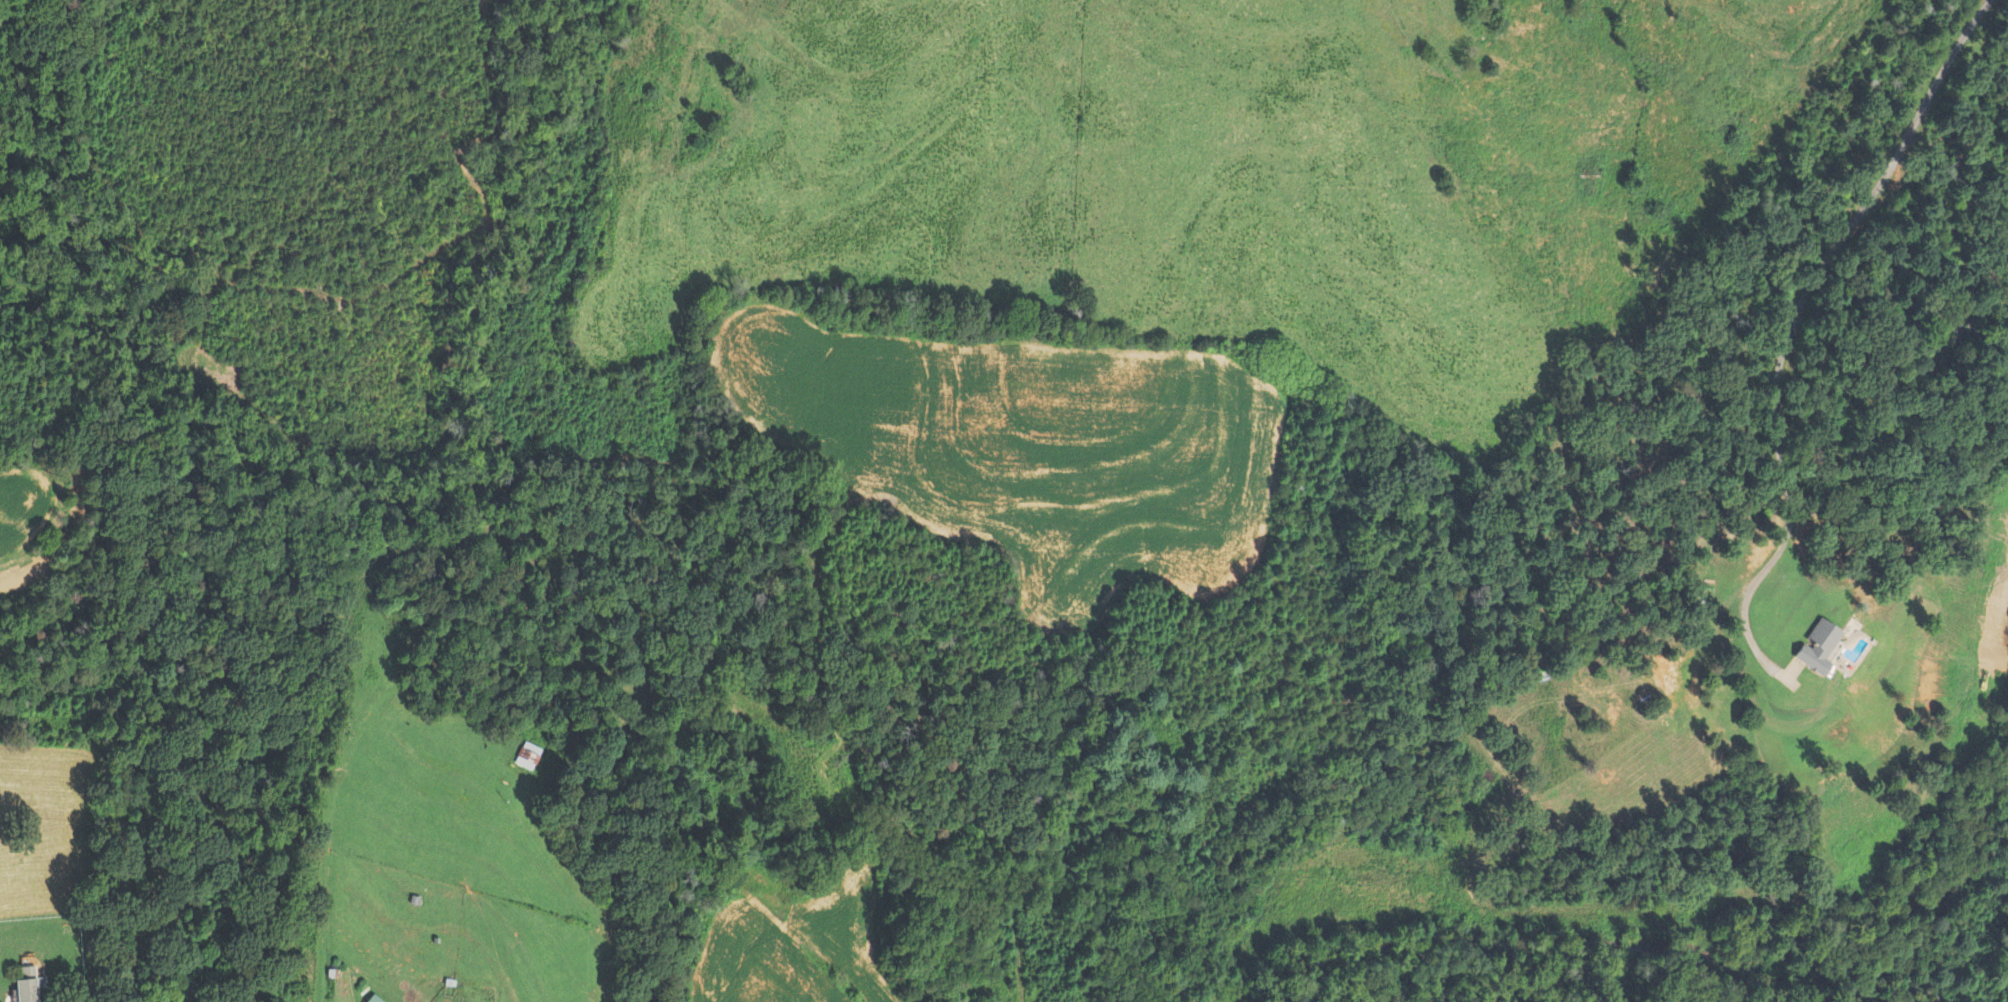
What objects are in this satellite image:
road: (1791, 325)
building: (1817, 646)
building: (528, 755)
building: (27, 985)
building: (373, 999)

